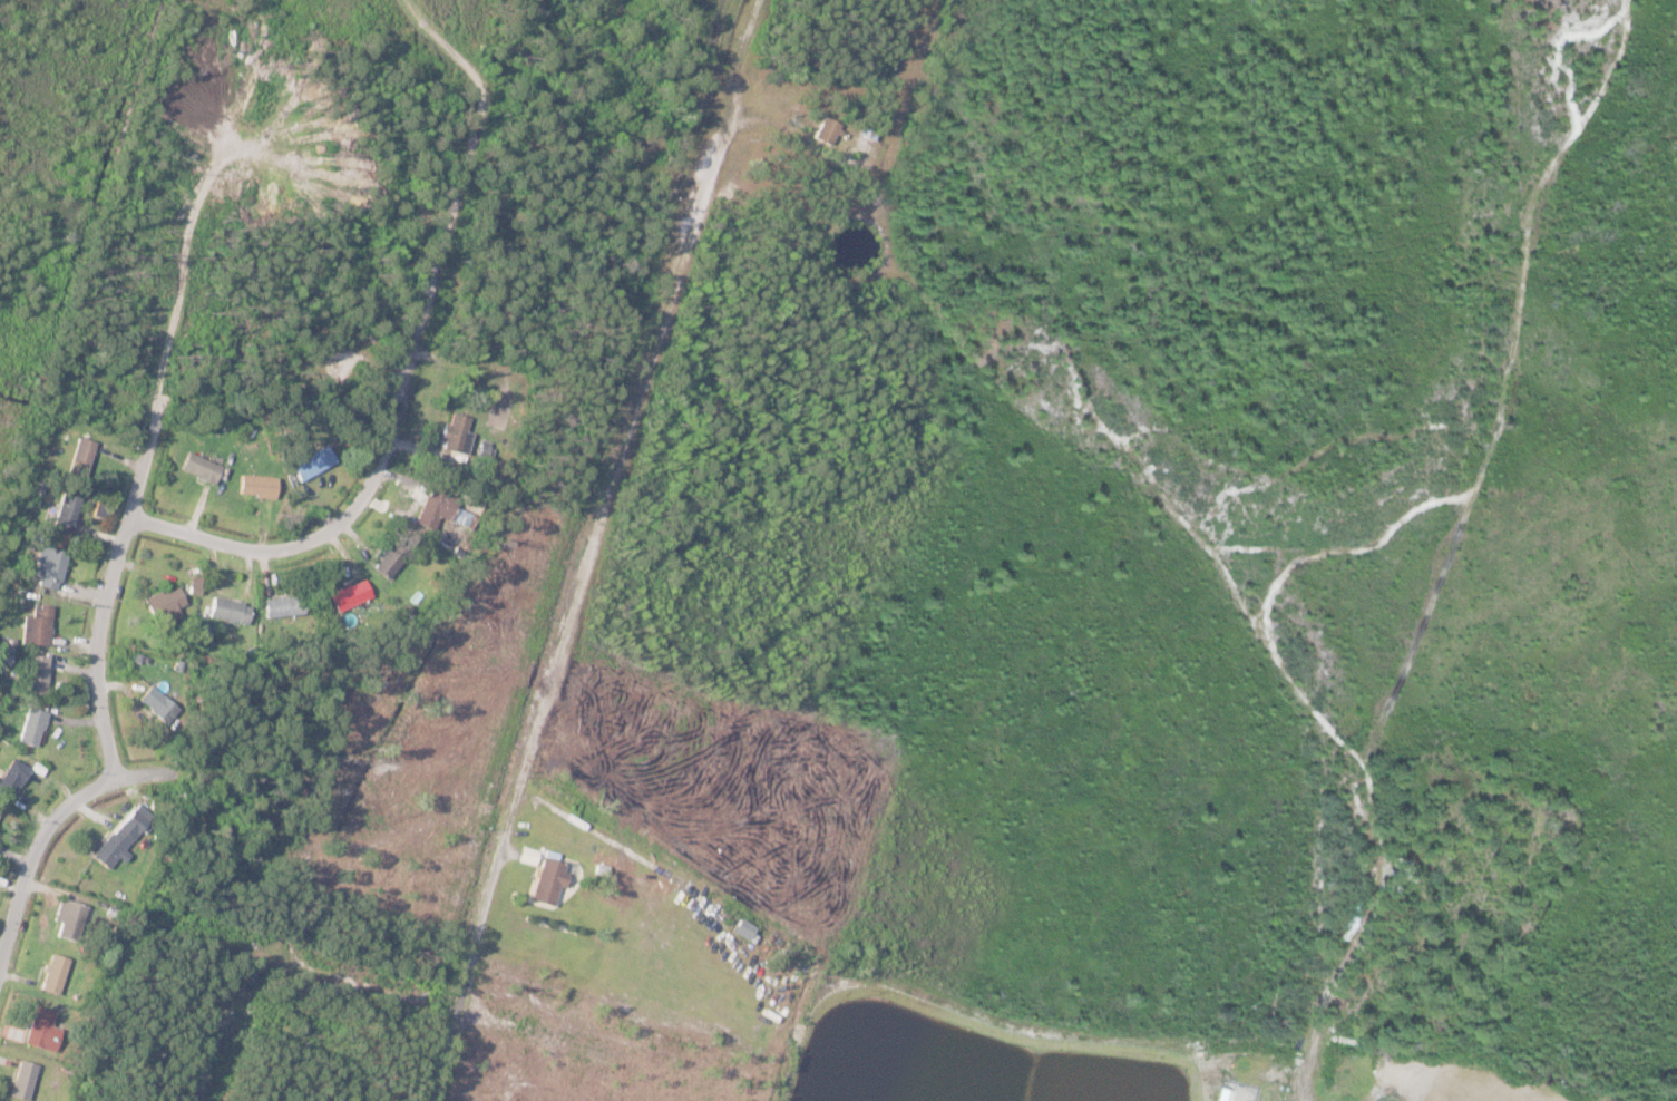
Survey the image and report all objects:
building: (823, 134)
building: (454, 435)
road: (384, 436)
building: (80, 459)
building: (310, 465)
building: (198, 469)
building: (255, 487)
building: (440, 513)
building: (64, 516)
building: (388, 559)
building: (49, 571)
road: (107, 583)
road: (576, 596)
building: (348, 597)
building: (162, 607)
building: (281, 607)
building: (226, 612)
building: (36, 626)
building: (36, 678)
building: (155, 707)
building: (31, 729)
building: (11, 779)
road: (53, 821)
building: (120, 837)
building: (546, 884)
building: (69, 922)
building: (743, 932)
building: (51, 975)
road: (293, 1027)
building: (40, 1031)
building: (21, 1081)

